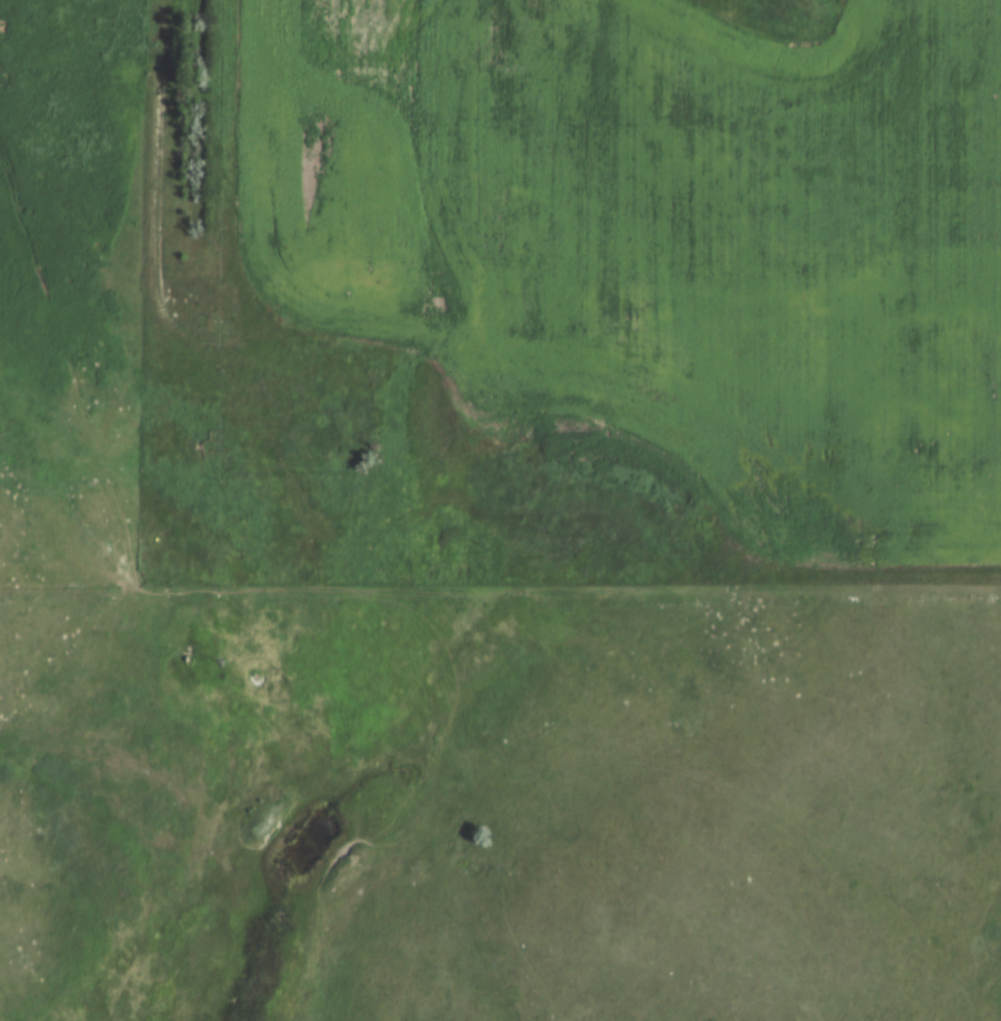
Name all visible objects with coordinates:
road: (420, 294)

